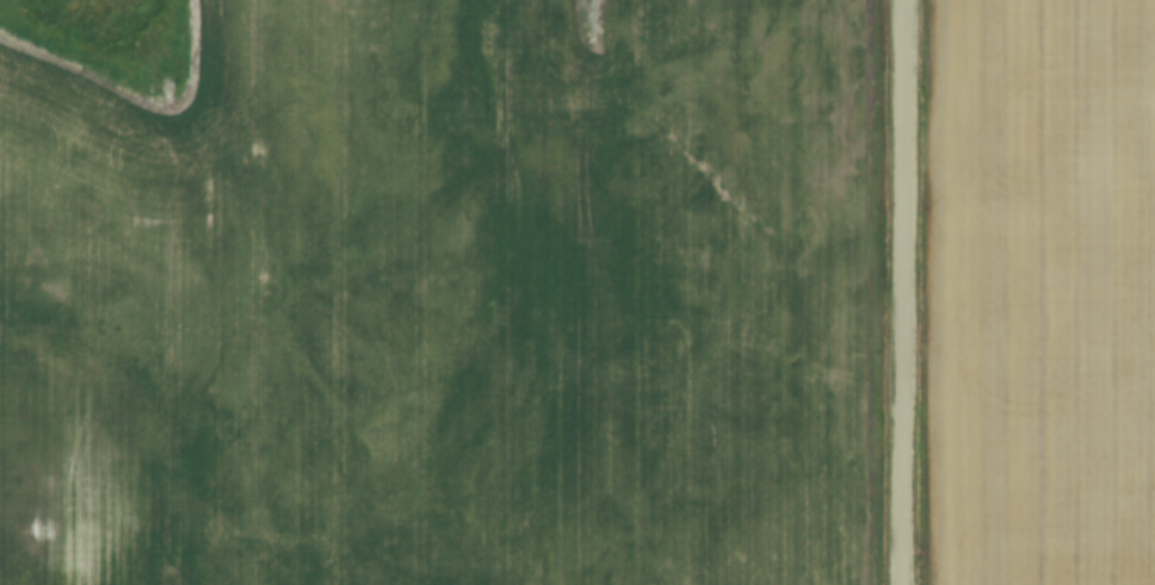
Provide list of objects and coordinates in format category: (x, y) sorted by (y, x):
road: (903, 292)

